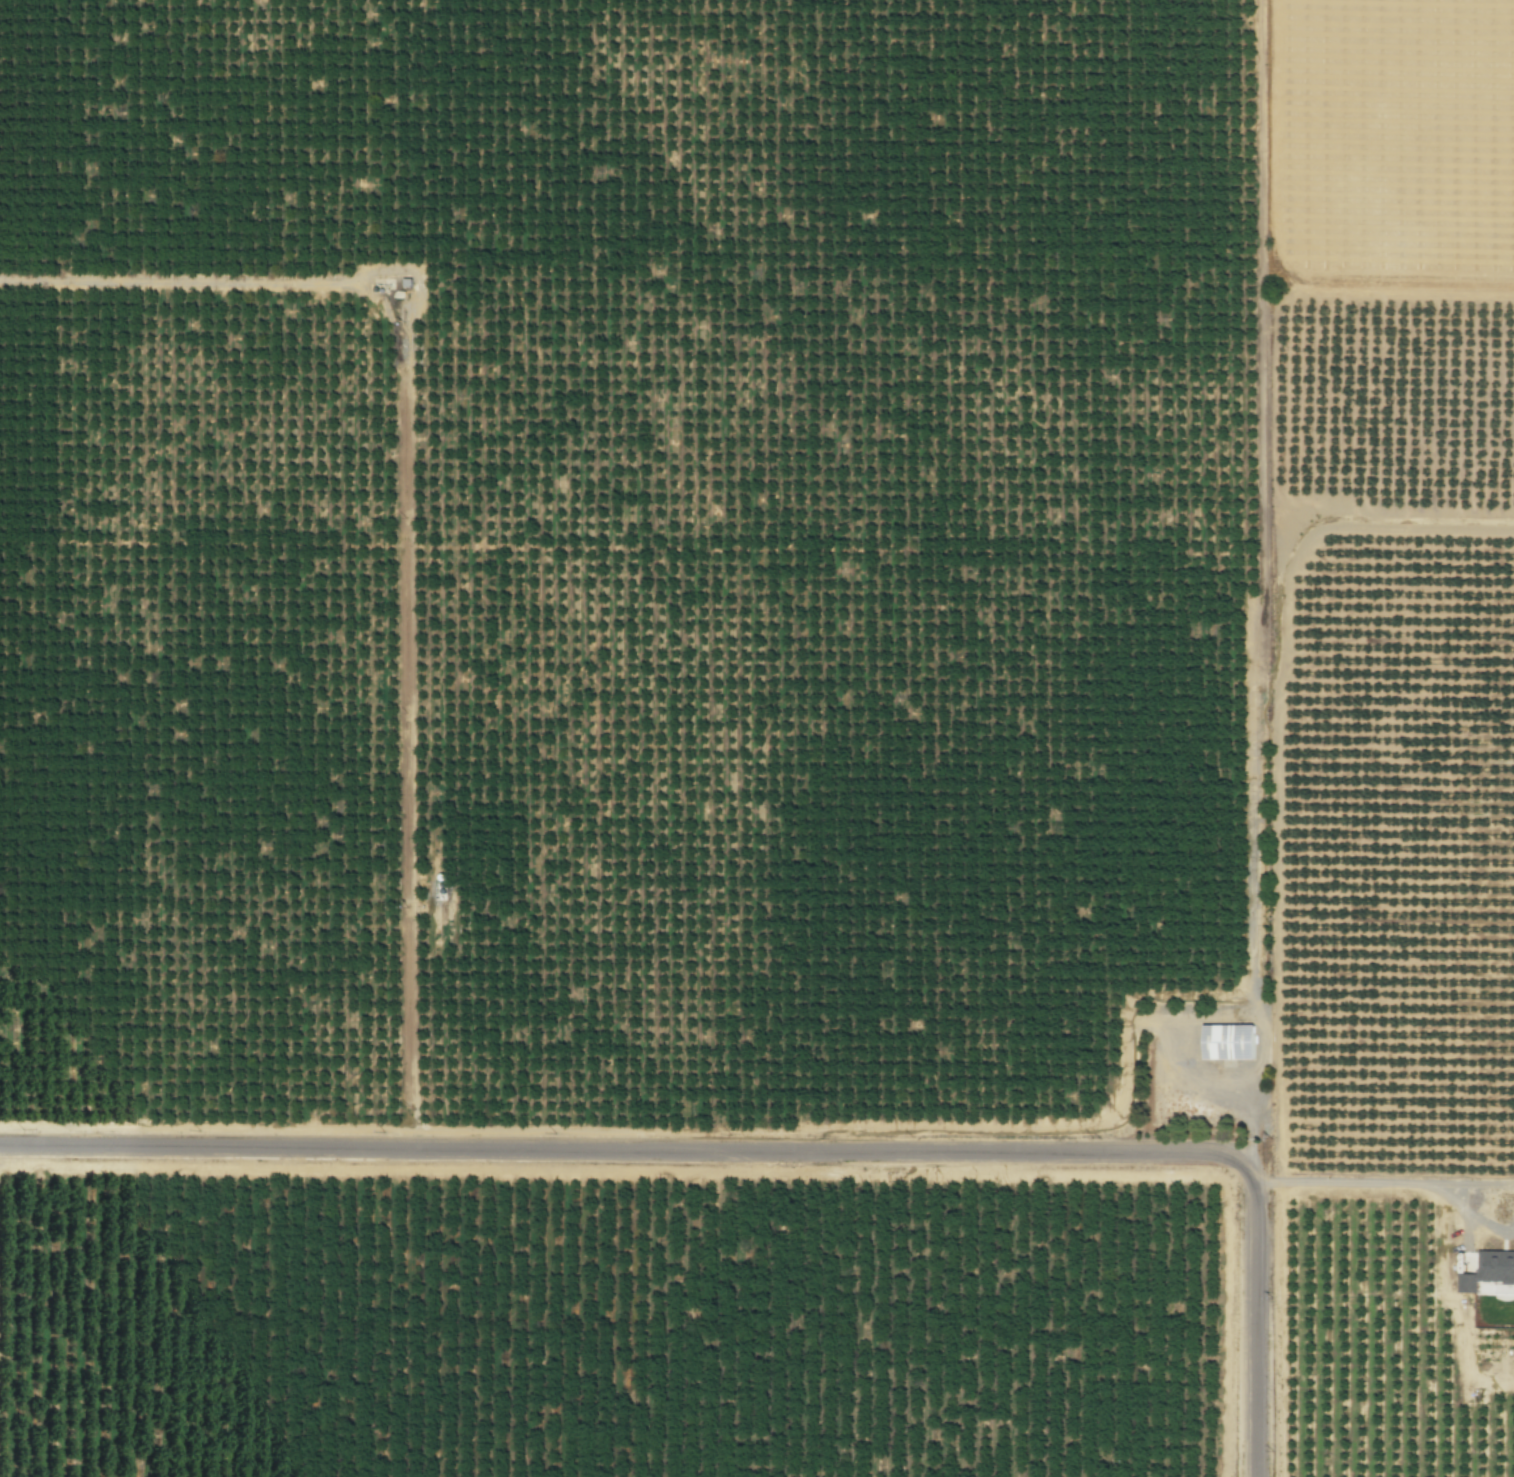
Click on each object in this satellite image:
building: (1225, 1043)
road: (778, 1151)
road: (1339, 1181)
road: (1472, 1184)
road: (1468, 1214)
building: (1487, 1271)

